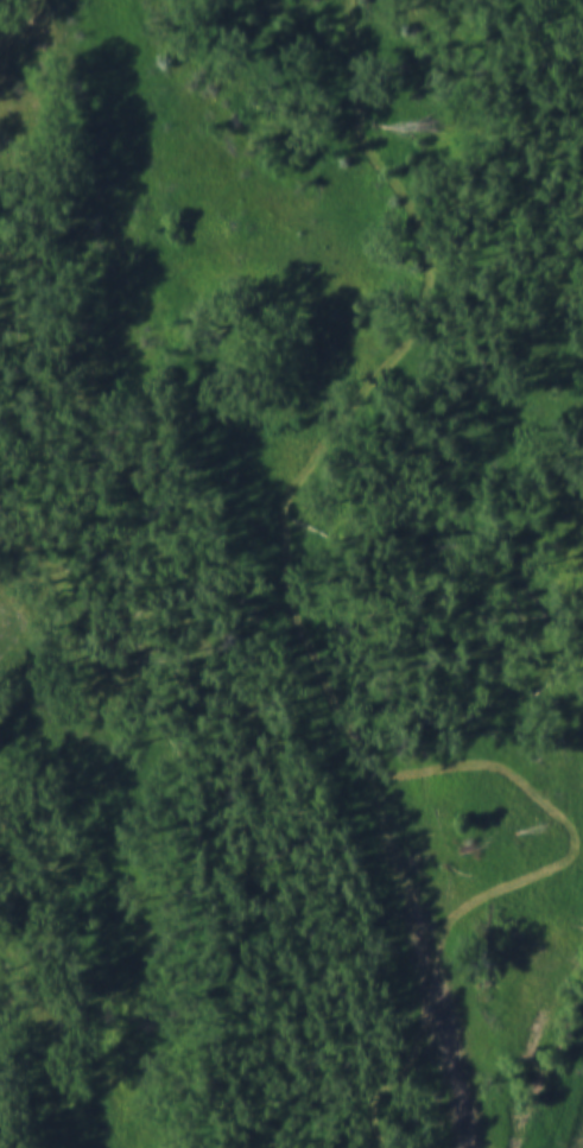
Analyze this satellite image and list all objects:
park: (291, 572)
road: (318, 665)

